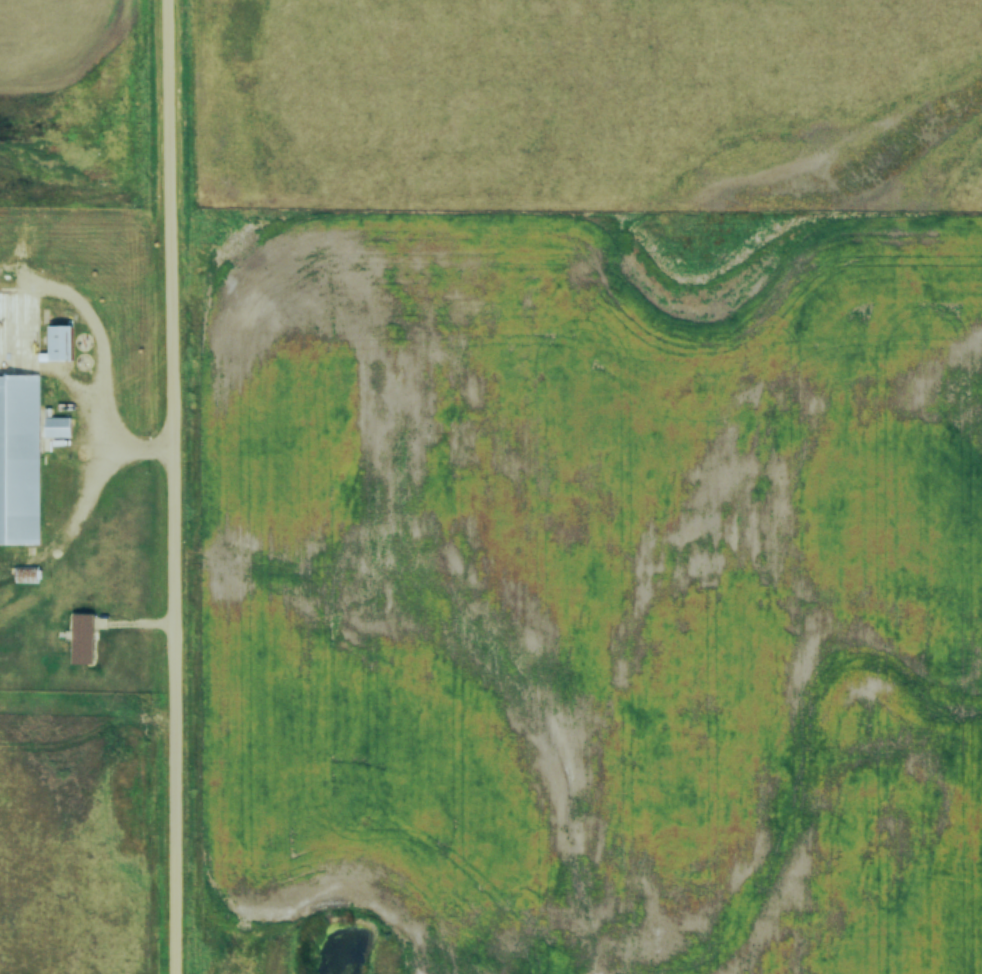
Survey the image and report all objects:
building: (22, 407)
building: (55, 426)
road: (171, 487)
building: (80, 638)

